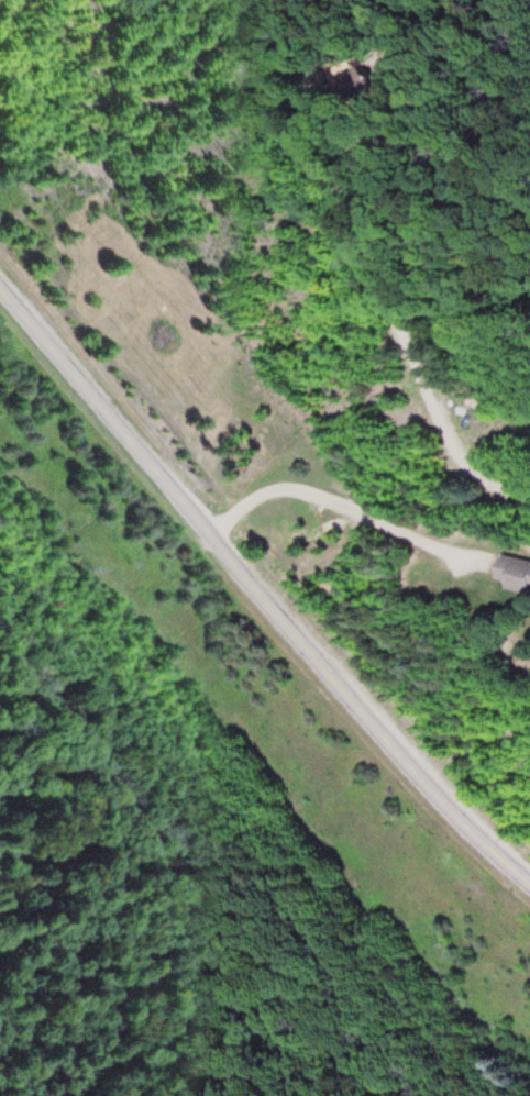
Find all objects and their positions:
road: (489, 131)
building: (516, 574)
road: (260, 589)

